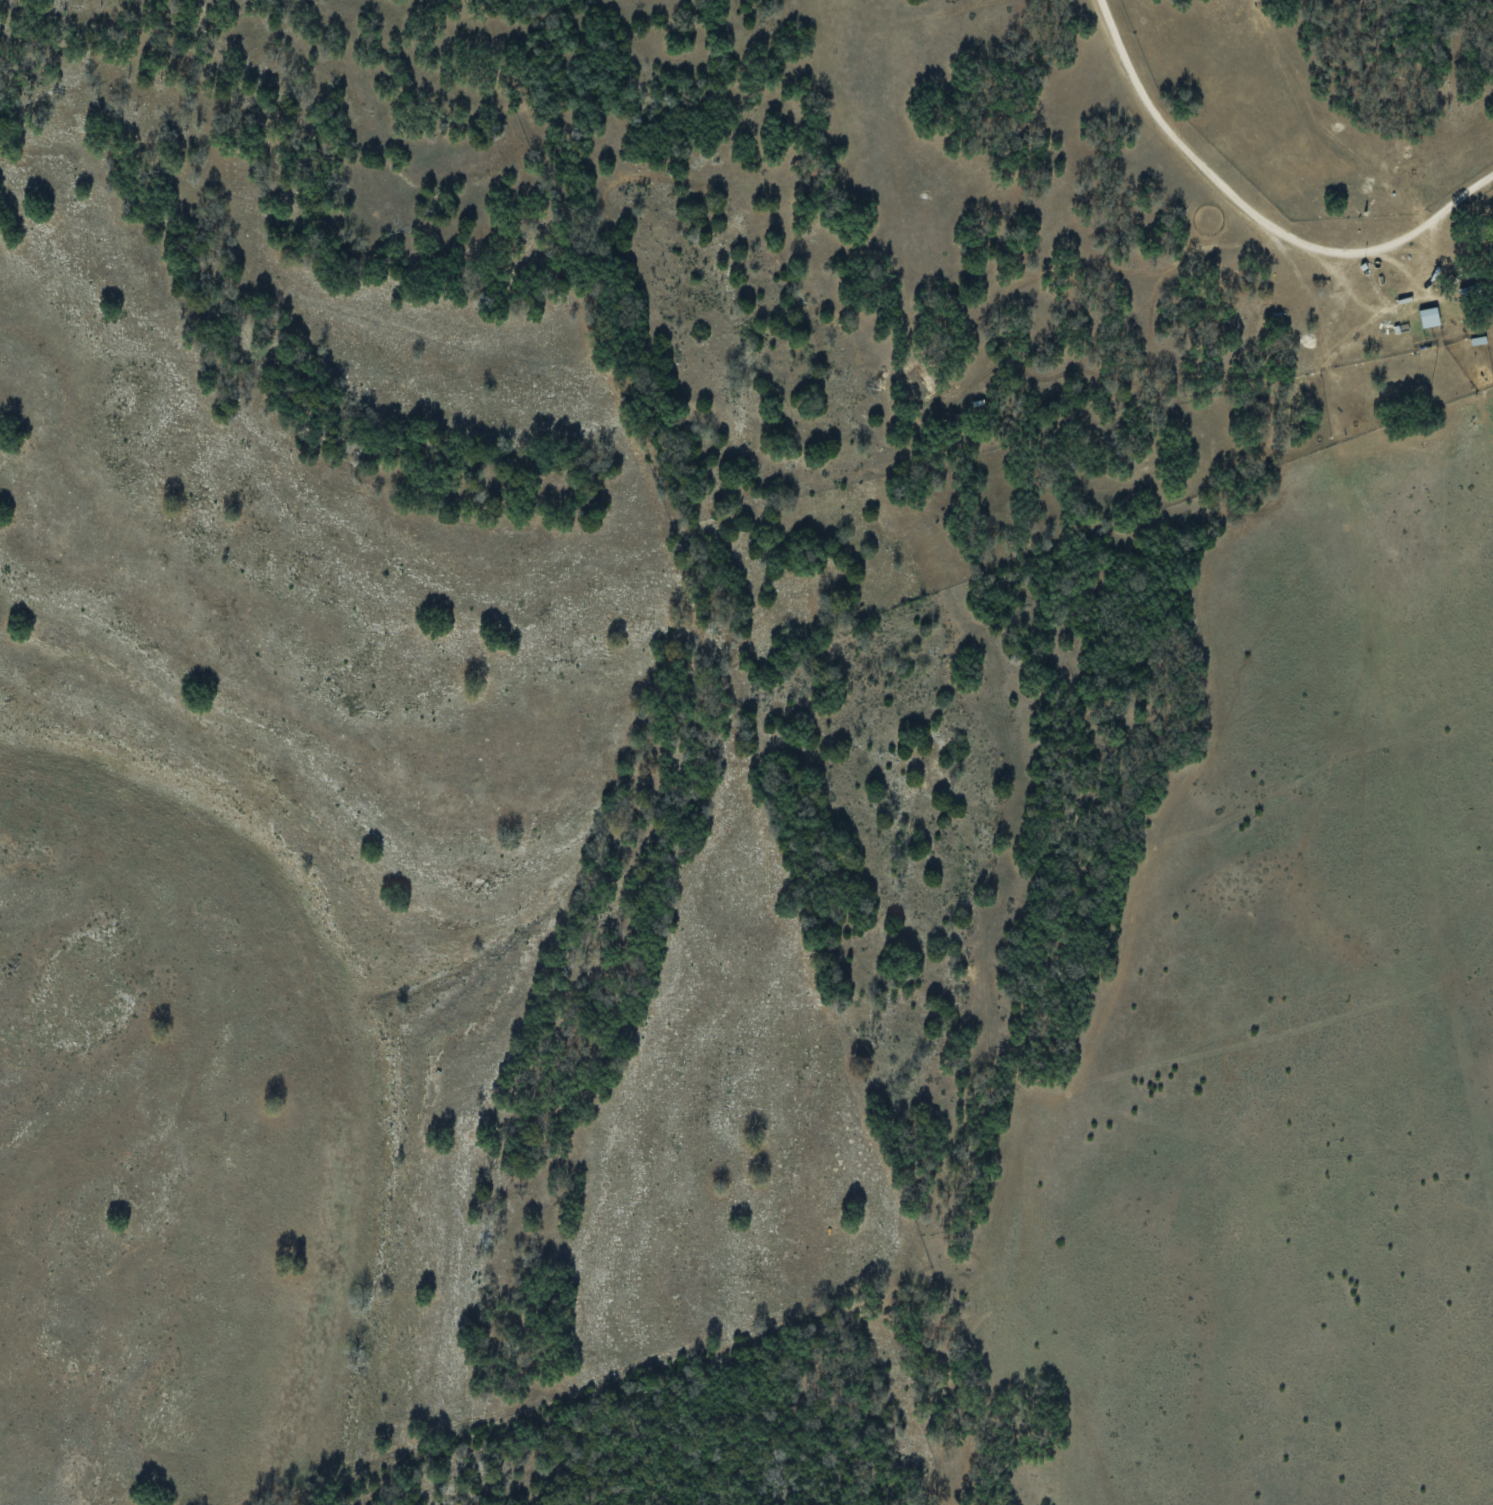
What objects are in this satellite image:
road: (1255, 215)
building: (1428, 315)

